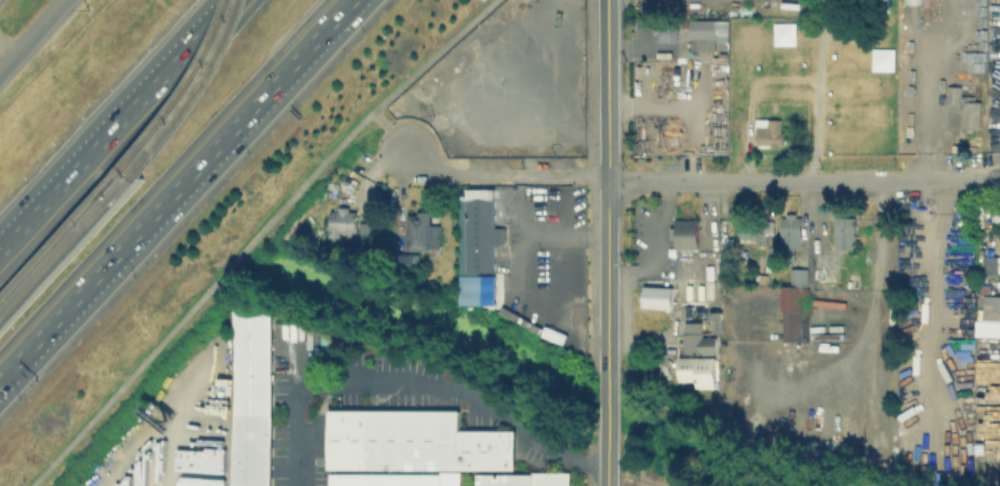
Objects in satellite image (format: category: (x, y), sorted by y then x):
building: (668, 31)
building: (703, 33)
road: (34, 38)
railway: (186, 90)
road: (817, 91)
railway: (196, 94)
building: (955, 95)
building: (972, 113)
road: (118, 127)
road: (387, 129)
building: (771, 134)
road: (698, 182)
road: (170, 185)
road: (608, 195)
road: (657, 203)
building: (344, 223)
building: (365, 229)
building: (426, 229)
road: (541, 229)
building: (754, 231)
building: (789, 231)
building: (486, 234)
building: (684, 234)
building: (846, 234)
railway: (61, 235)
road: (255, 237)
building: (368, 237)
railway: (65, 246)
road: (649, 249)
building: (409, 259)
building: (989, 264)
road: (628, 275)
road: (878, 289)
road: (930, 289)
building: (658, 300)
building: (791, 304)
building: (988, 316)
building: (696, 339)
building: (698, 371)
road: (416, 387)
building: (257, 397)
road: (608, 422)
building: (413, 441)
building: (982, 446)
road: (607, 469)
building: (394, 479)
building: (523, 480)

